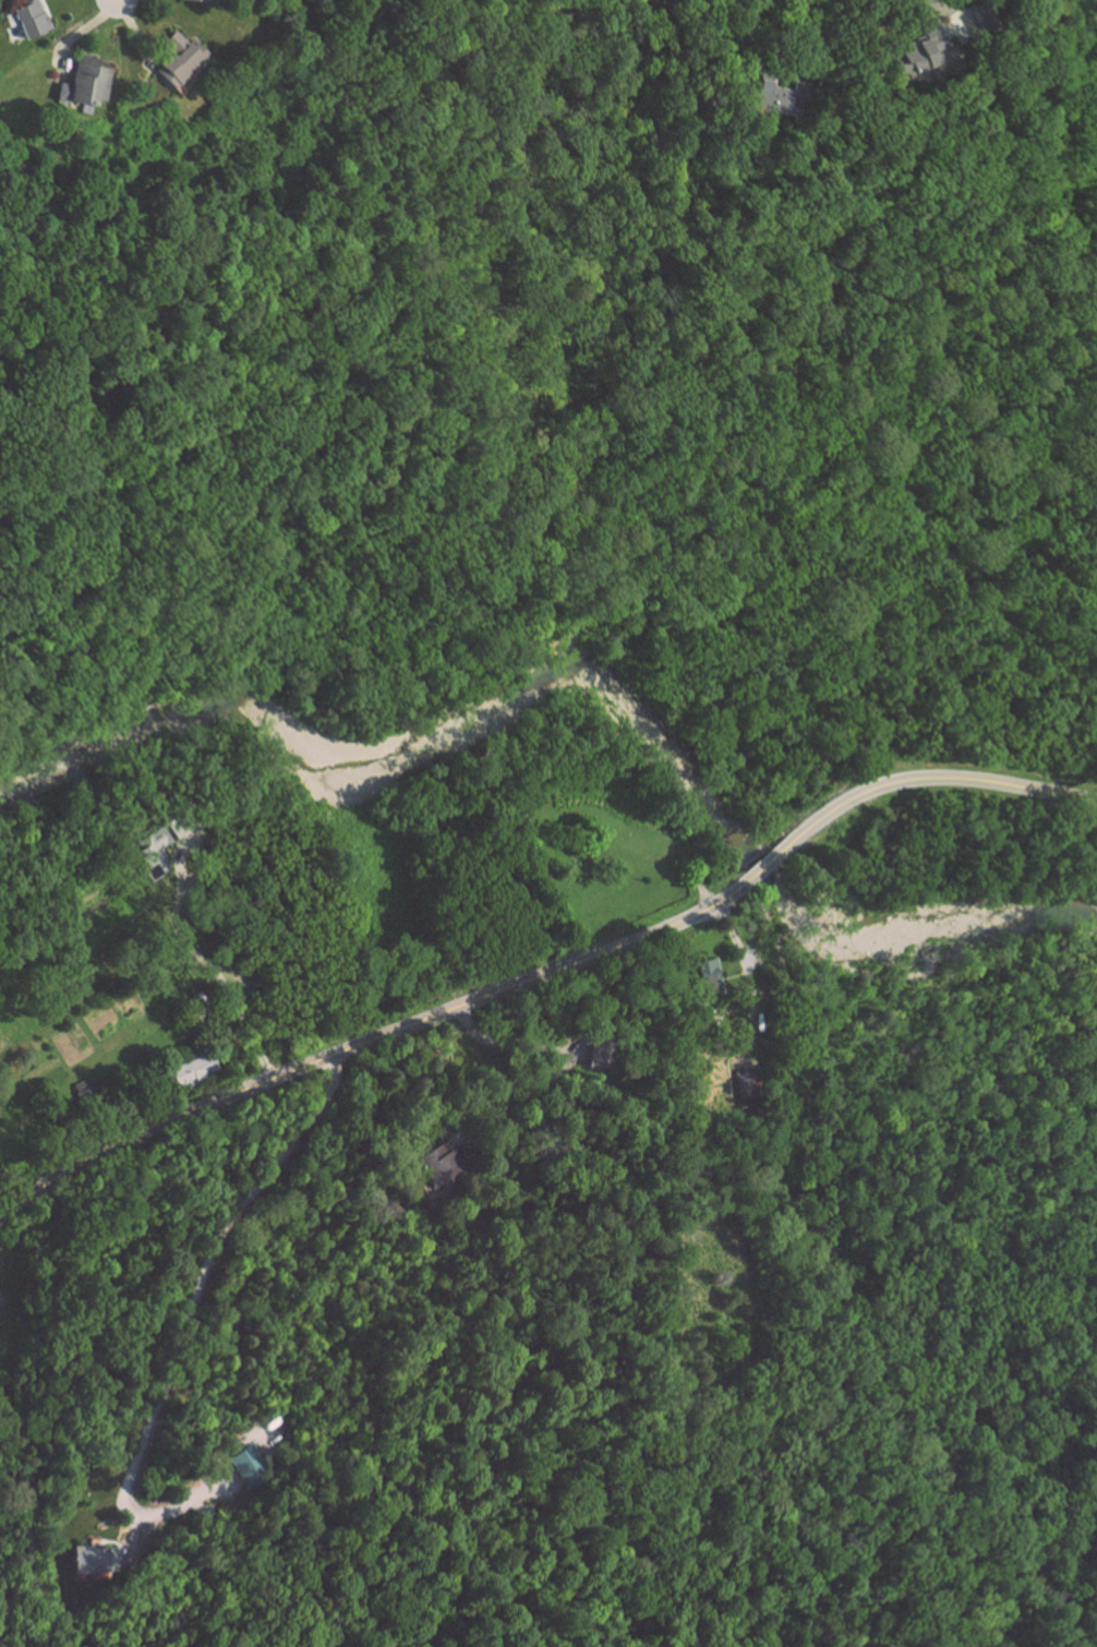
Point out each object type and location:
road: (117, 0)
building: (194, 0)
building: (446, 1)
road: (949, 11)
building: (981, 17)
building: (28, 19)
road: (801, 27)
building: (923, 52)
building: (177, 61)
building: (84, 84)
building: (779, 98)
building: (150, 850)
road: (214, 970)
road: (548, 972)
road: (747, 974)
building: (598, 1048)
road: (555, 1050)
building: (192, 1068)
building: (437, 1168)
road: (205, 1260)
building: (246, 1466)
building: (92, 1559)

